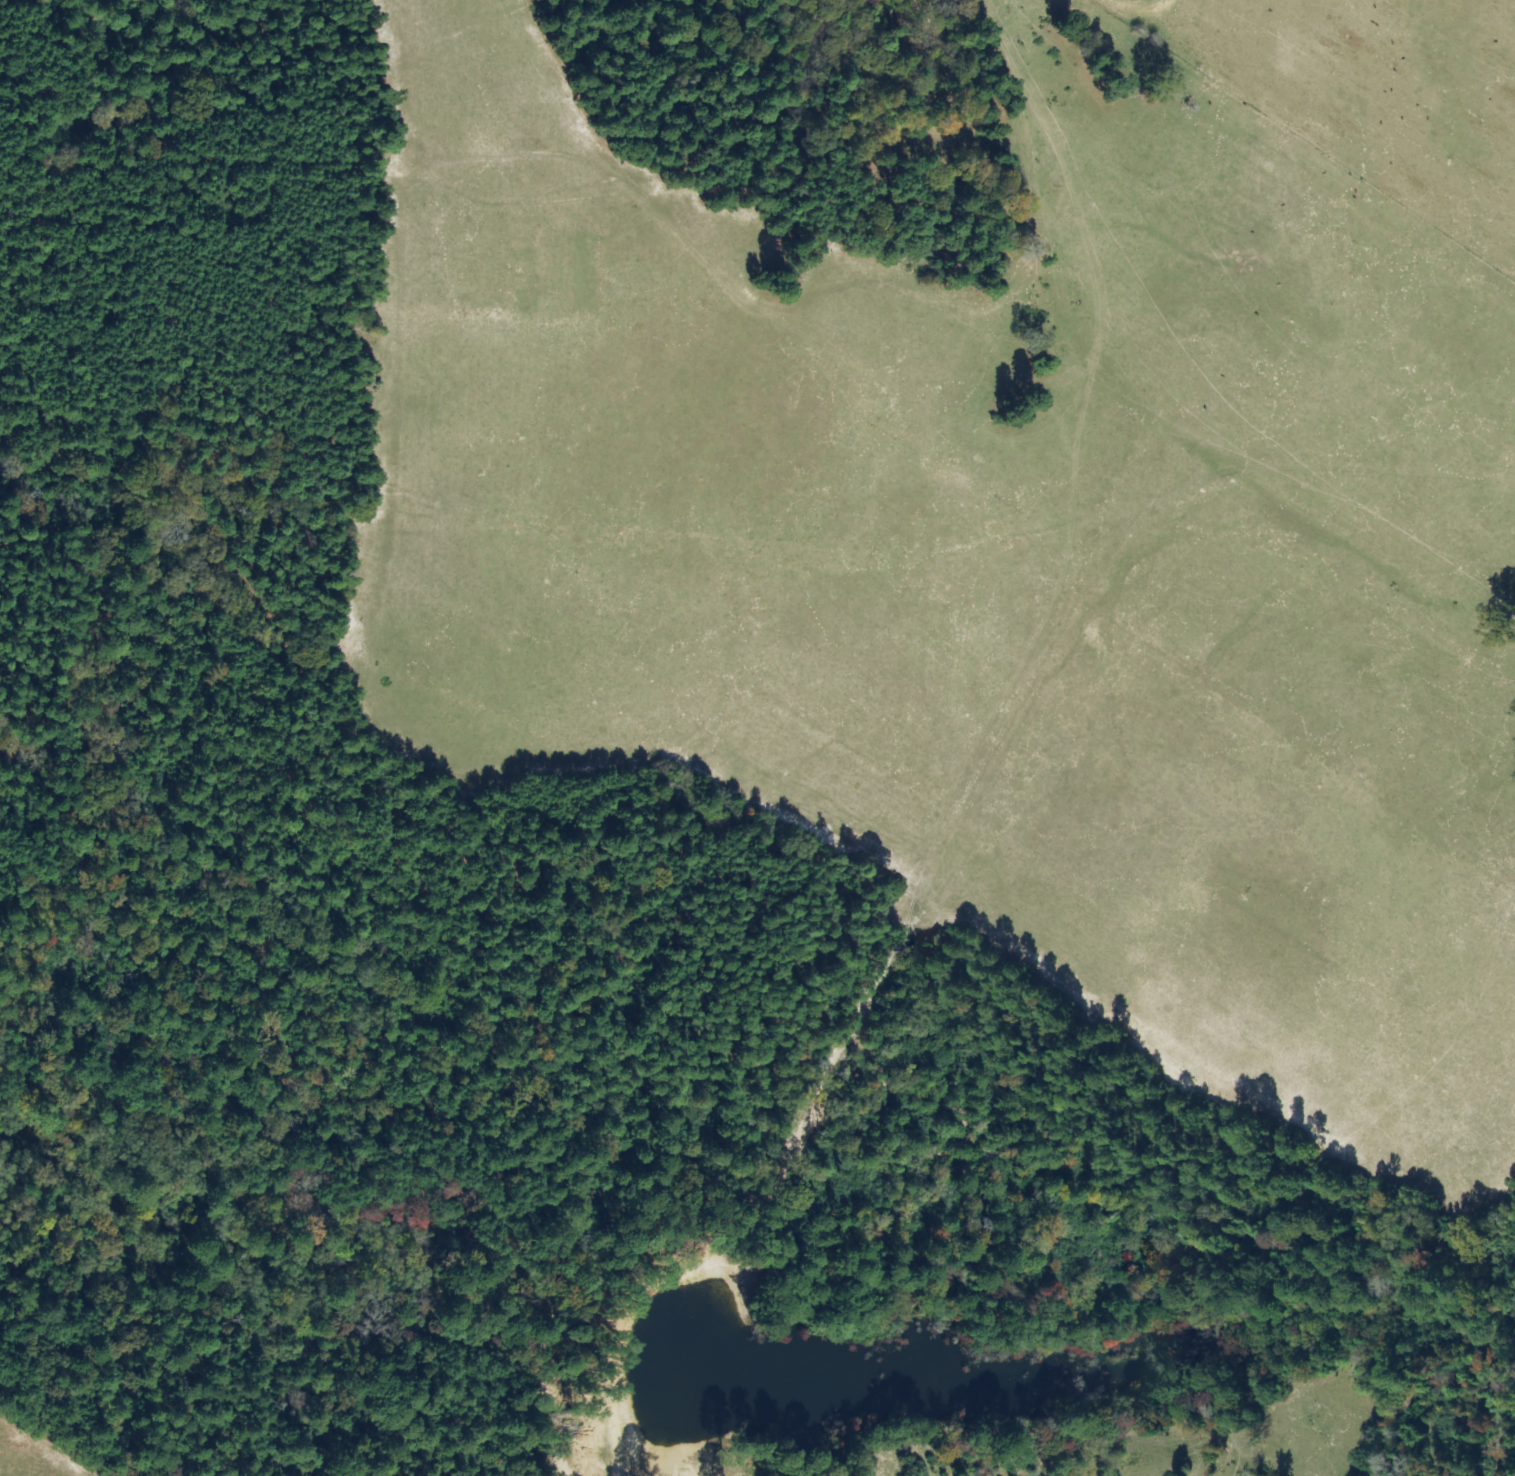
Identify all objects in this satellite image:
road: (536, 219)

